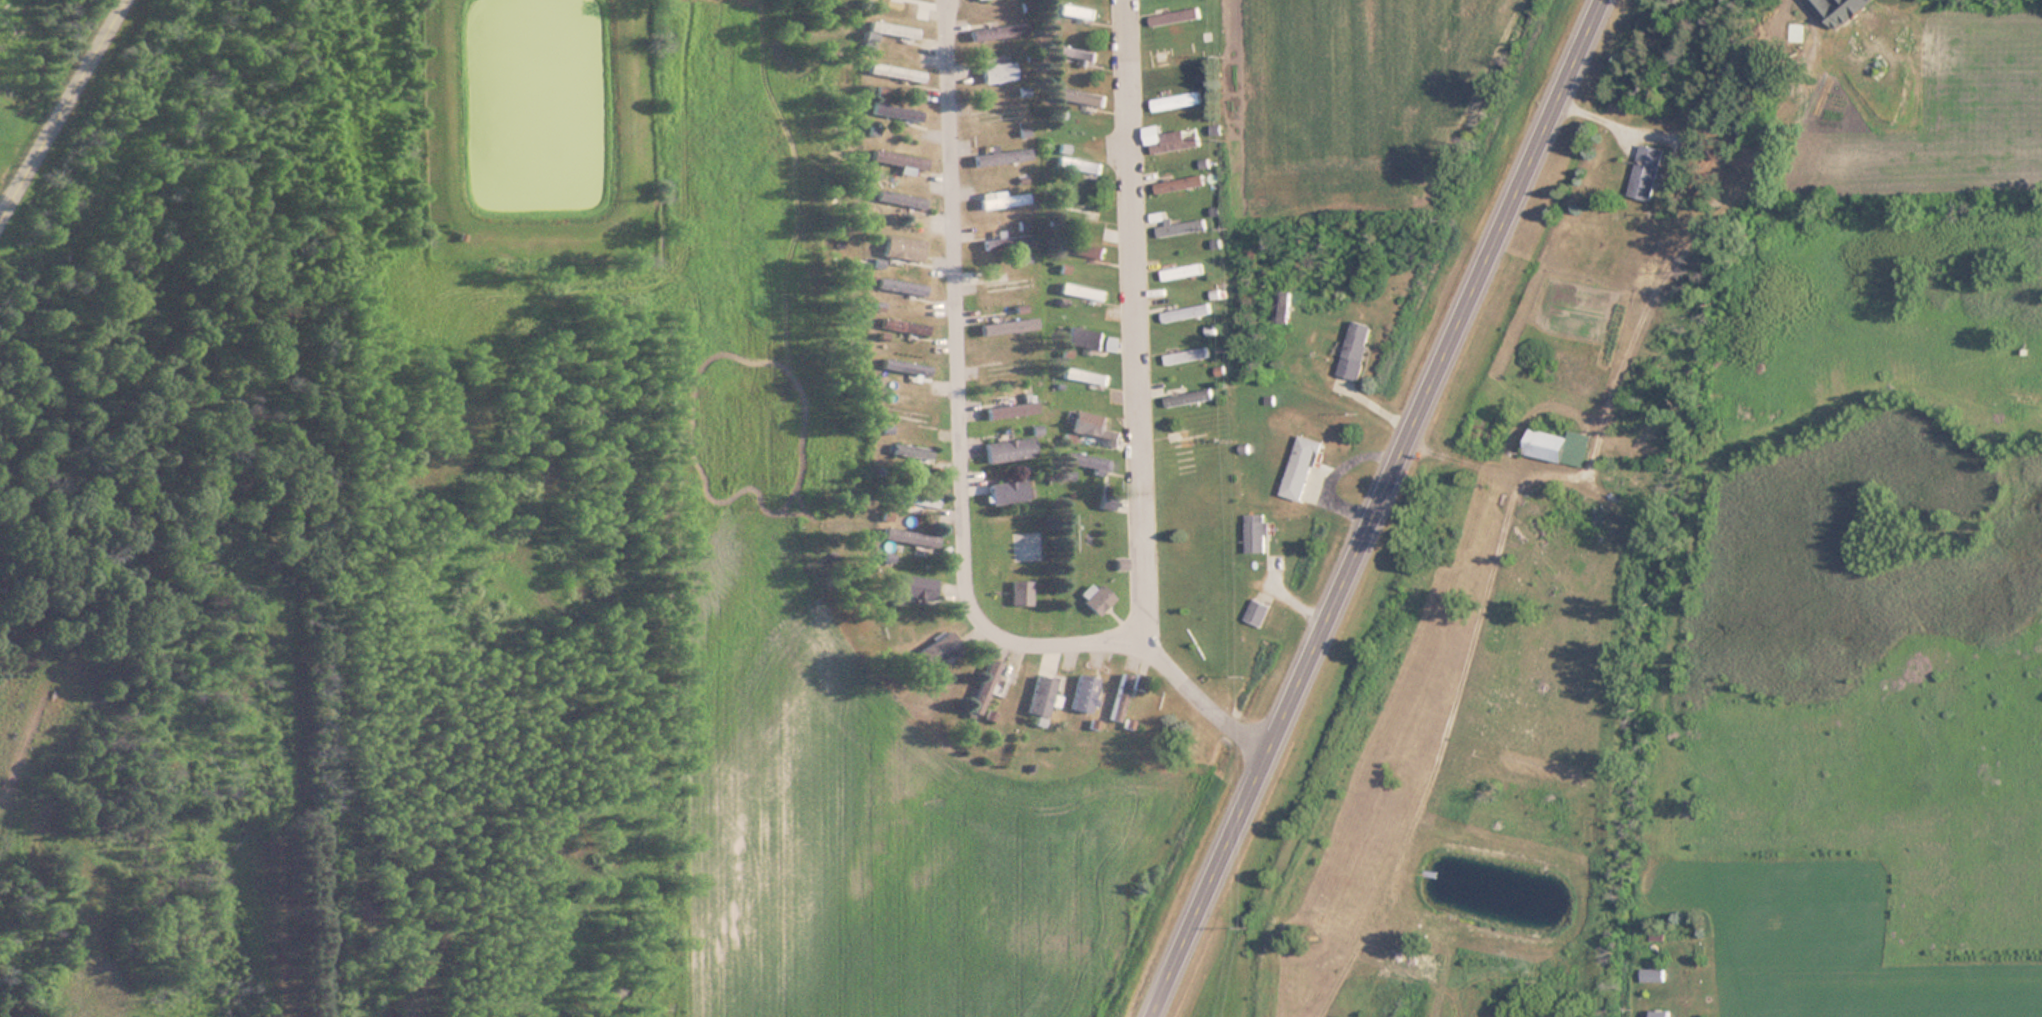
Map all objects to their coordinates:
building: (1076, 10)
building: (1837, 10)
building: (1179, 15)
building: (891, 29)
building: (1074, 52)
building: (1182, 57)
building: (893, 72)
building: (995, 72)
building: (1081, 96)
building: (1174, 101)
building: (895, 111)
road: (66, 115)
building: (993, 115)
building: (1000, 154)
building: (897, 159)
building: (1079, 164)
building: (1647, 172)
building: (1179, 186)
building: (897, 196)
building: (1000, 200)
building: (1082, 207)
building: (1001, 242)
building: (901, 248)
building: (1076, 250)
building: (1186, 270)
building: (1003, 282)
building: (899, 286)
building: (1083, 290)
building: (1282, 306)
building: (905, 326)
building: (1004, 327)
building: (1084, 337)
building: (1354, 350)
building: (1183, 356)
building: (907, 366)
building: (1009, 368)
building: (1085, 375)
building: (1189, 397)
road: (956, 398)
road: (1136, 402)
building: (1012, 408)
building: (1087, 418)
building: (1557, 446)
building: (1008, 448)
building: (909, 451)
building: (1085, 460)
building: (1302, 469)
building: (1007, 491)
building: (906, 497)
road: (1374, 508)
building: (1255, 534)
building: (908, 536)
building: (914, 585)
building: (1019, 593)
building: (1097, 599)
building: (1256, 612)
building: (935, 647)
building: (1140, 683)
building: (981, 686)
building: (1082, 691)
building: (1038, 694)
building: (1119, 697)
building: (1652, 975)
building: (1660, 1014)

